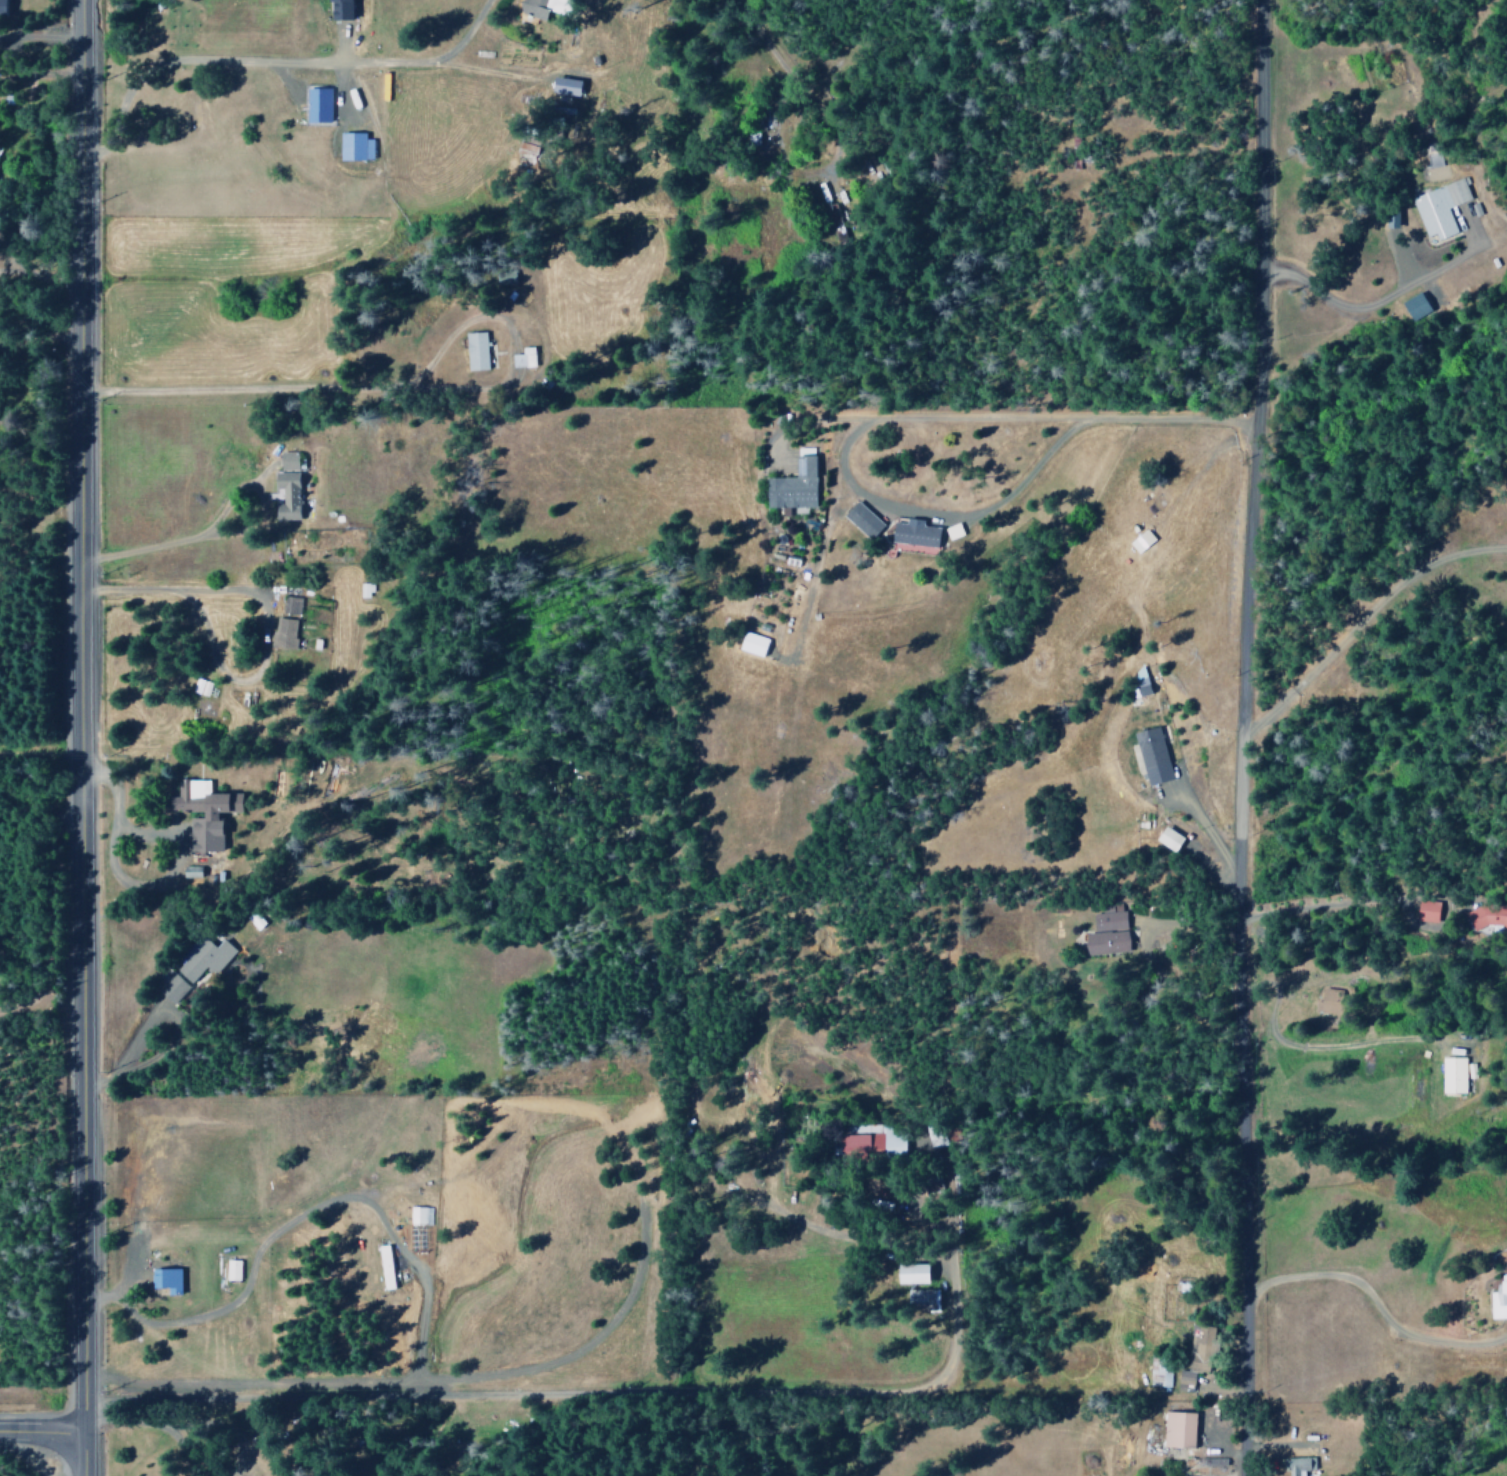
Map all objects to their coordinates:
building: (547, 8)
building: (343, 9)
road: (780, 65)
building: (568, 86)
building: (318, 105)
building: (356, 147)
building: (527, 154)
building: (1441, 208)
building: (1416, 306)
building: (477, 351)
building: (525, 358)
road: (1003, 418)
building: (795, 486)
building: (288, 487)
road: (943, 517)
building: (864, 520)
building: (916, 533)
building: (1142, 541)
building: (287, 625)
building: (754, 644)
building: (201, 687)
building: (1140, 688)
road: (1240, 737)
road: (78, 738)
building: (1153, 756)
building: (206, 813)
building: (1171, 839)
building: (1427, 911)
building: (1486, 917)
building: (1108, 933)
building: (194, 968)
building: (1331, 1002)
building: (1454, 1076)
building: (863, 1147)
building: (420, 1216)
building: (386, 1267)
building: (232, 1269)
building: (916, 1273)
building: (167, 1279)
building: (924, 1298)
building: (1500, 1300)
building: (1201, 1348)
road: (505, 1396)
building: (1180, 1429)
road: (61, 1434)
road: (44, 1435)
building: (1298, 1465)

